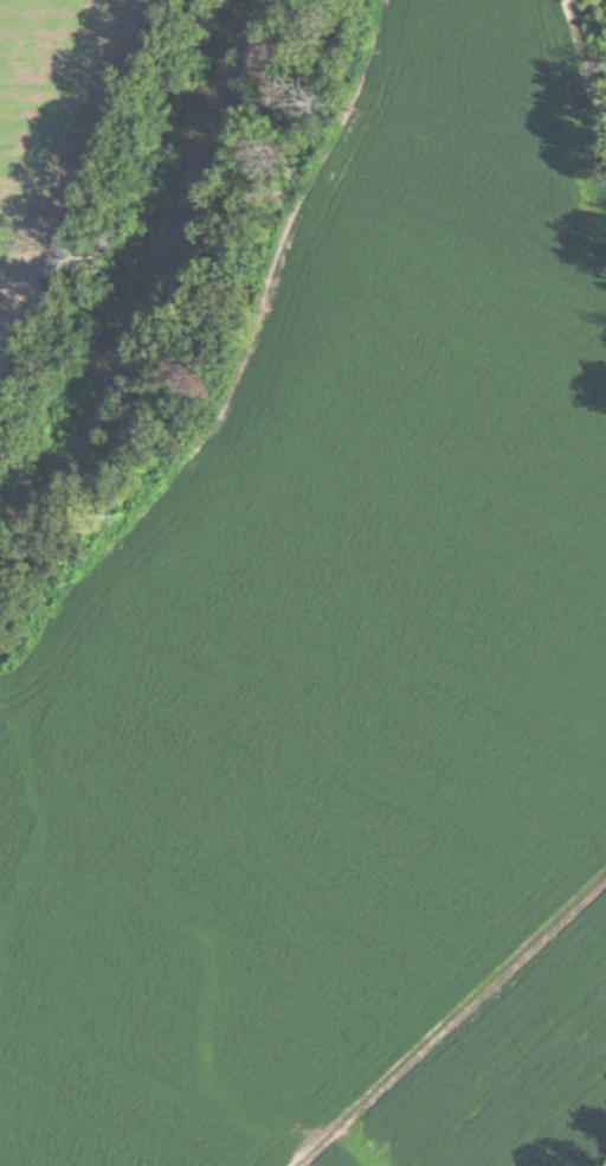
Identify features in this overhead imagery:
river: (165, 268)

